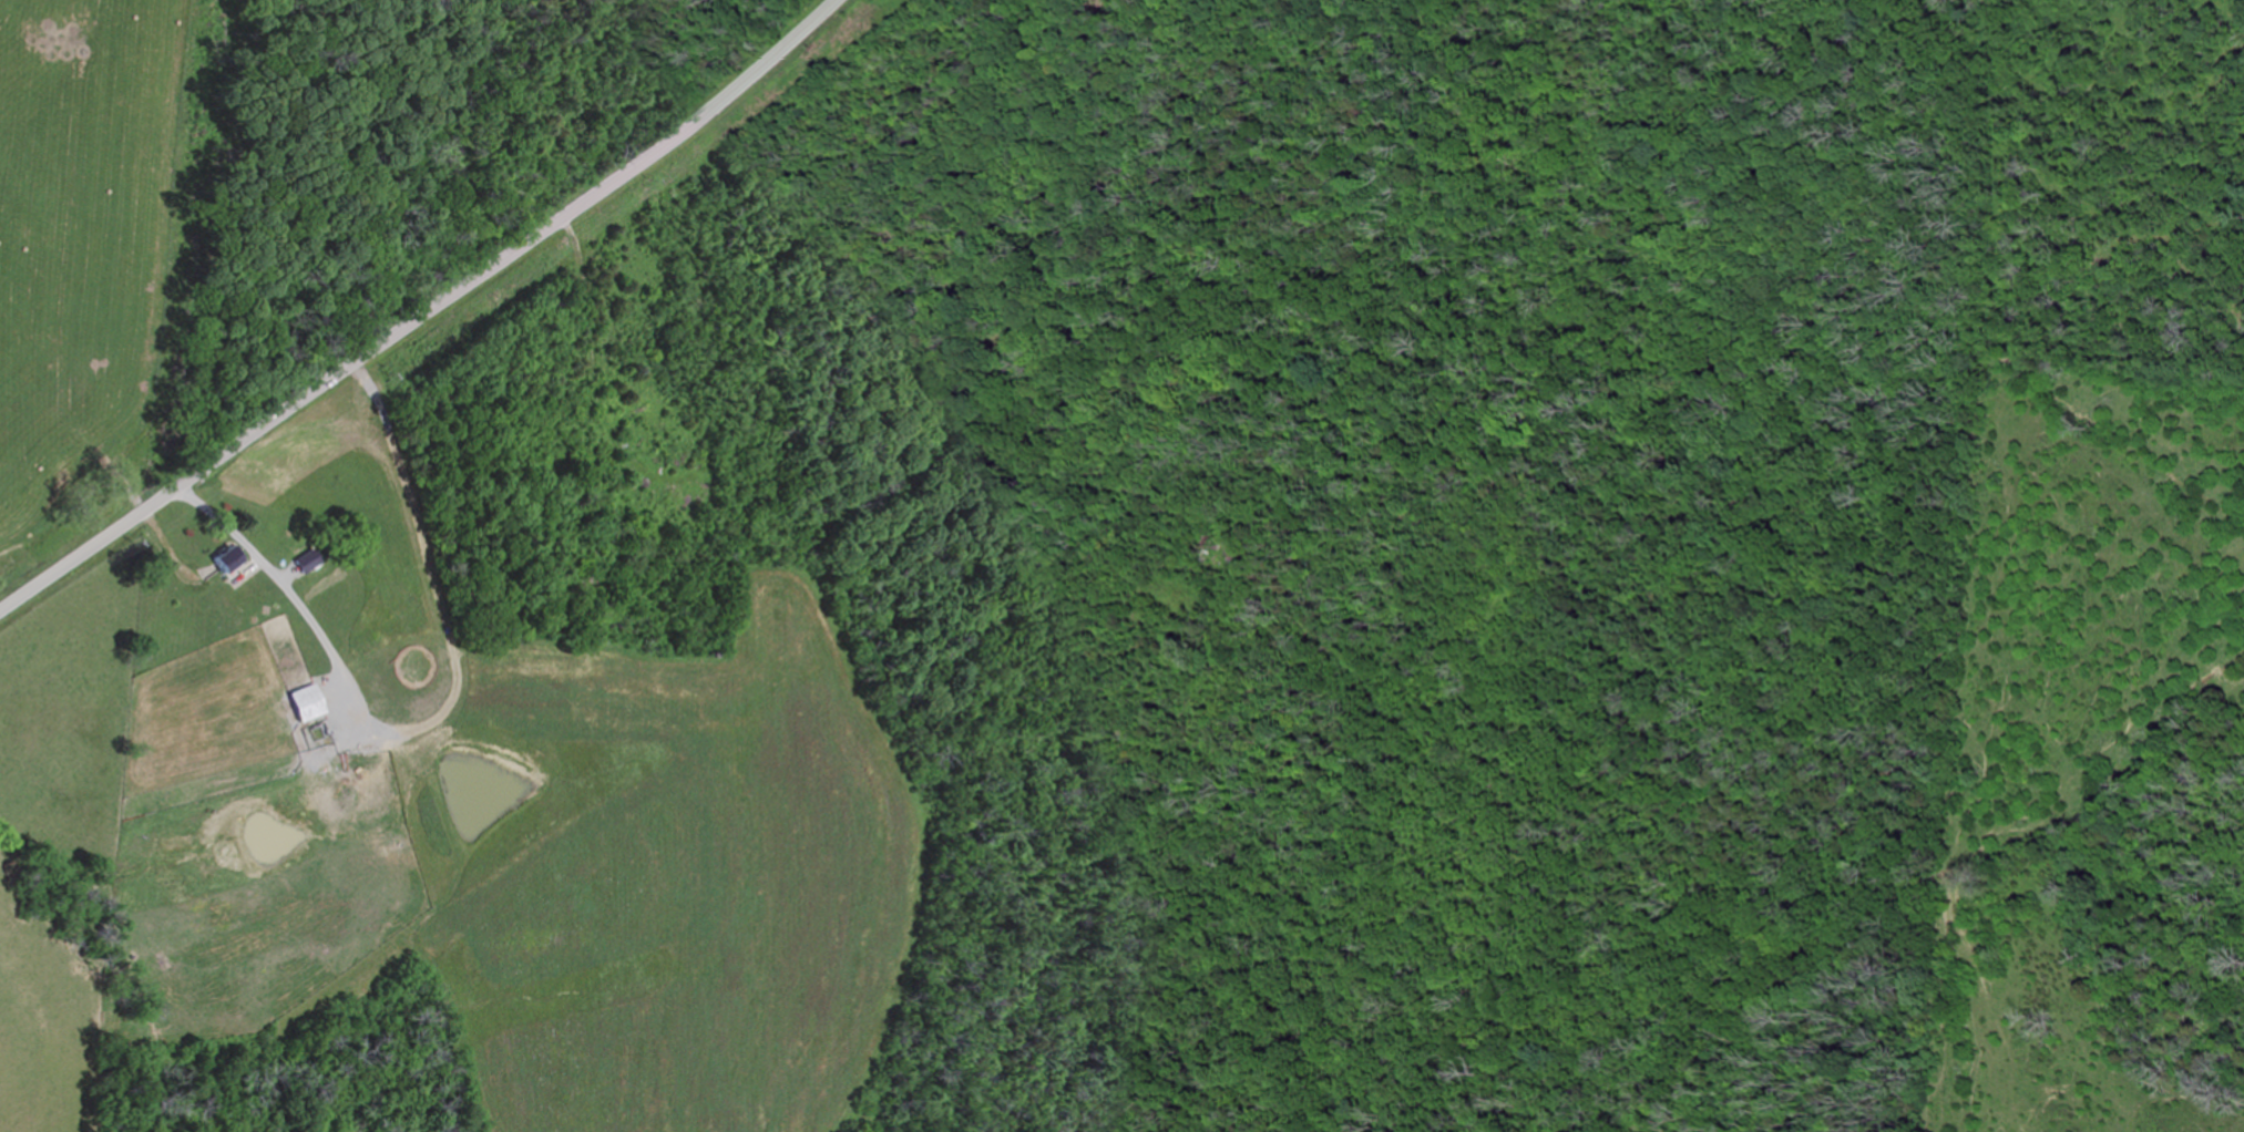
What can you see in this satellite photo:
road: (426, 316)
building: (1221, 549)
building: (600, 552)
building: (222, 559)
building: (307, 563)
building: (305, 703)

